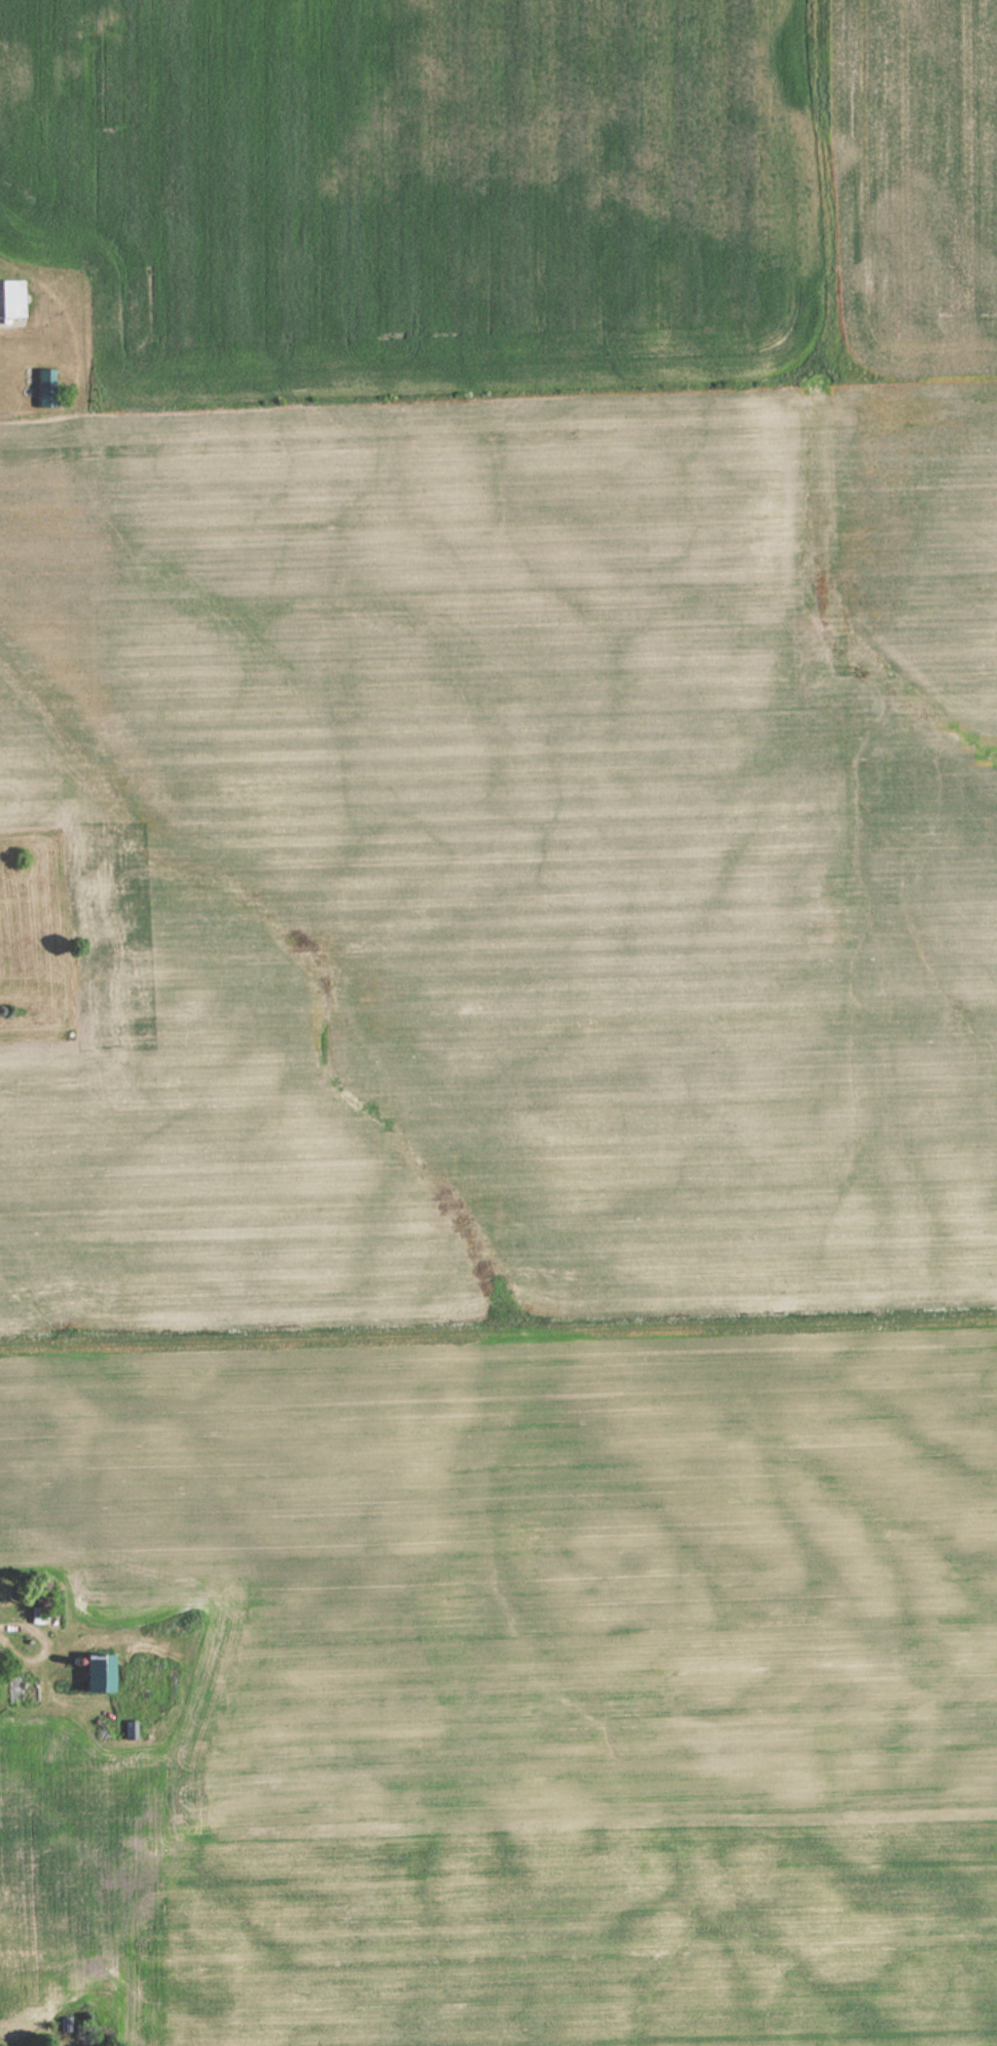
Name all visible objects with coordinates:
building: (11, 298)
building: (43, 387)
building: (99, 1671)
building: (24, 1686)
building: (129, 1727)

